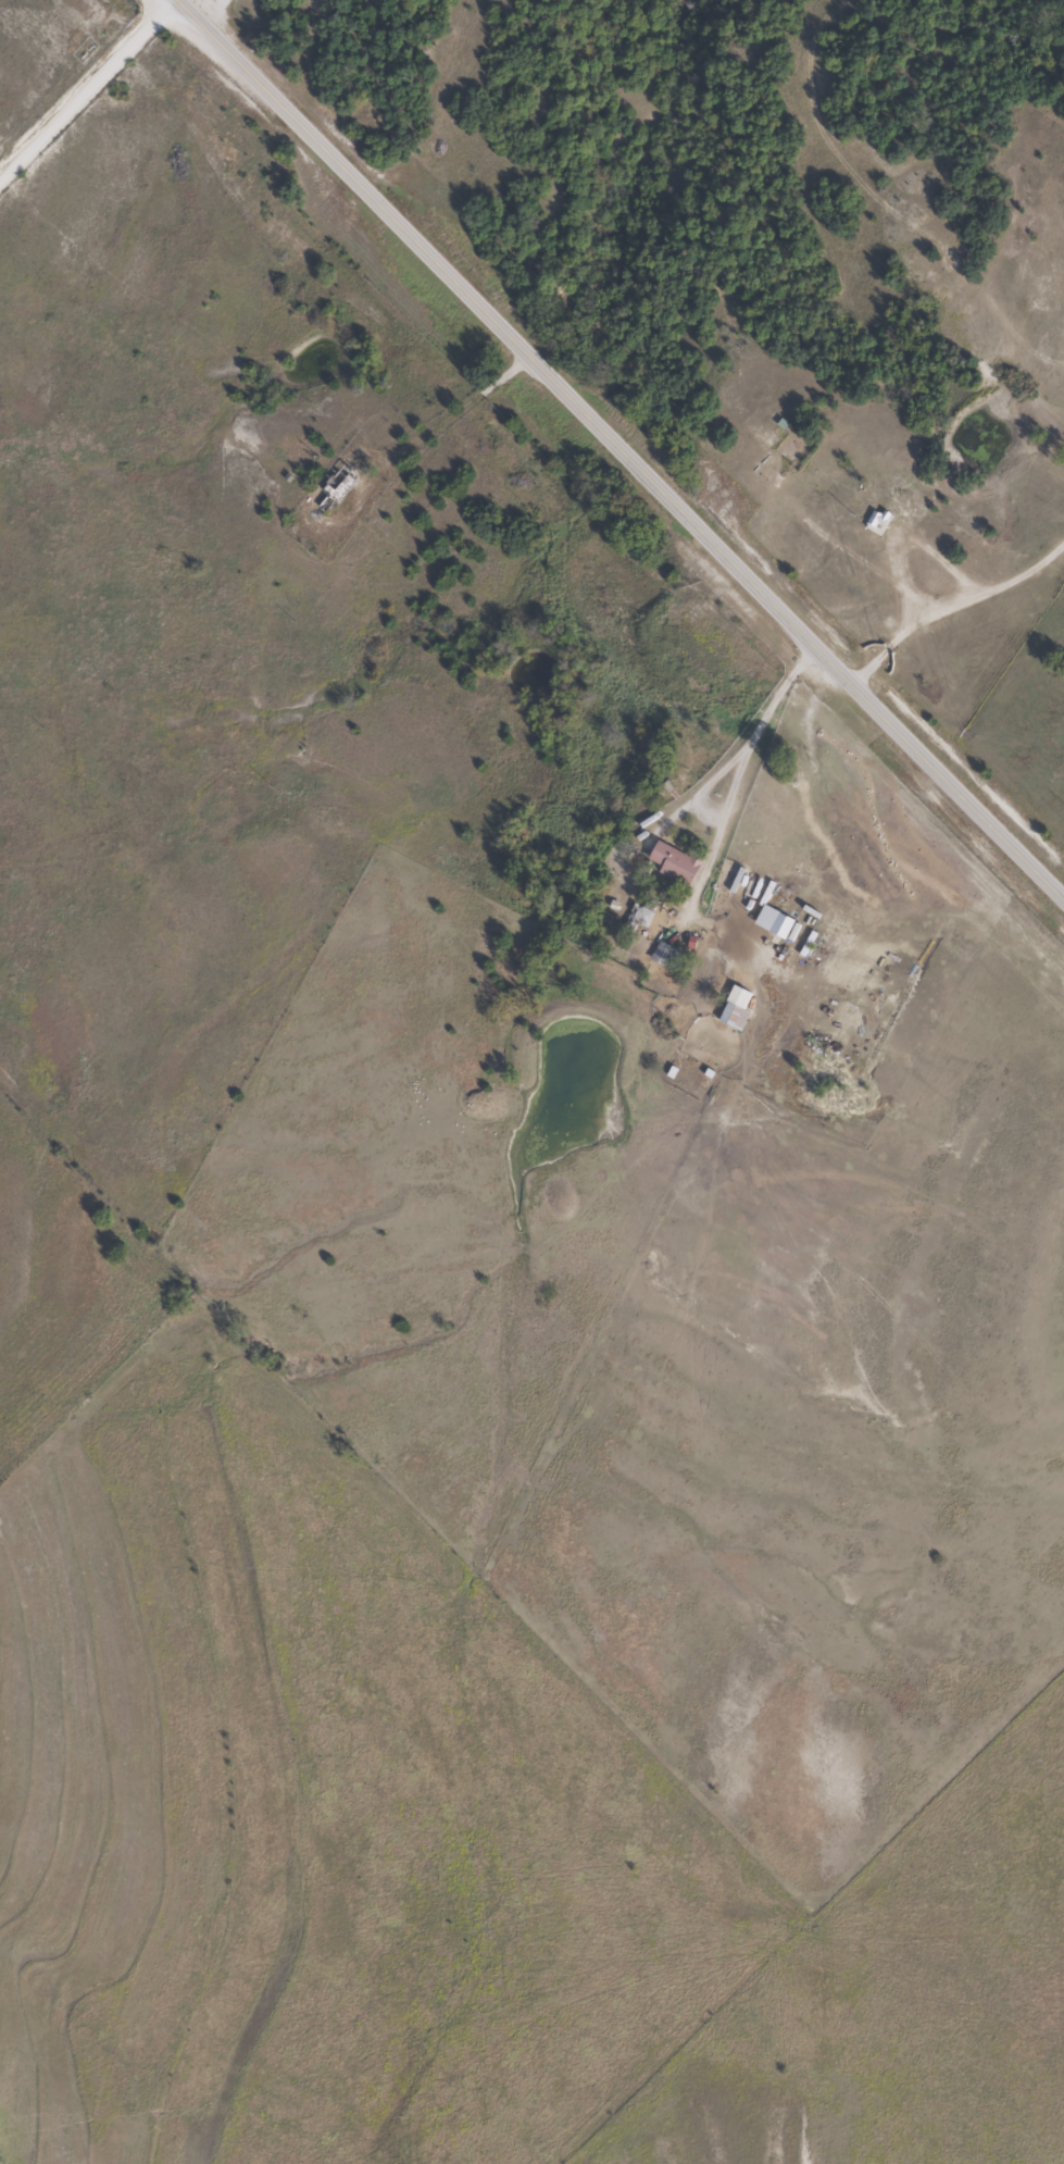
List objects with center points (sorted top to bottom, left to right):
road: (88, 87)
road: (621, 450)
building: (329, 492)
building: (874, 520)
building: (667, 865)
building: (634, 919)
building: (777, 929)
building: (659, 956)
building: (726, 1016)

